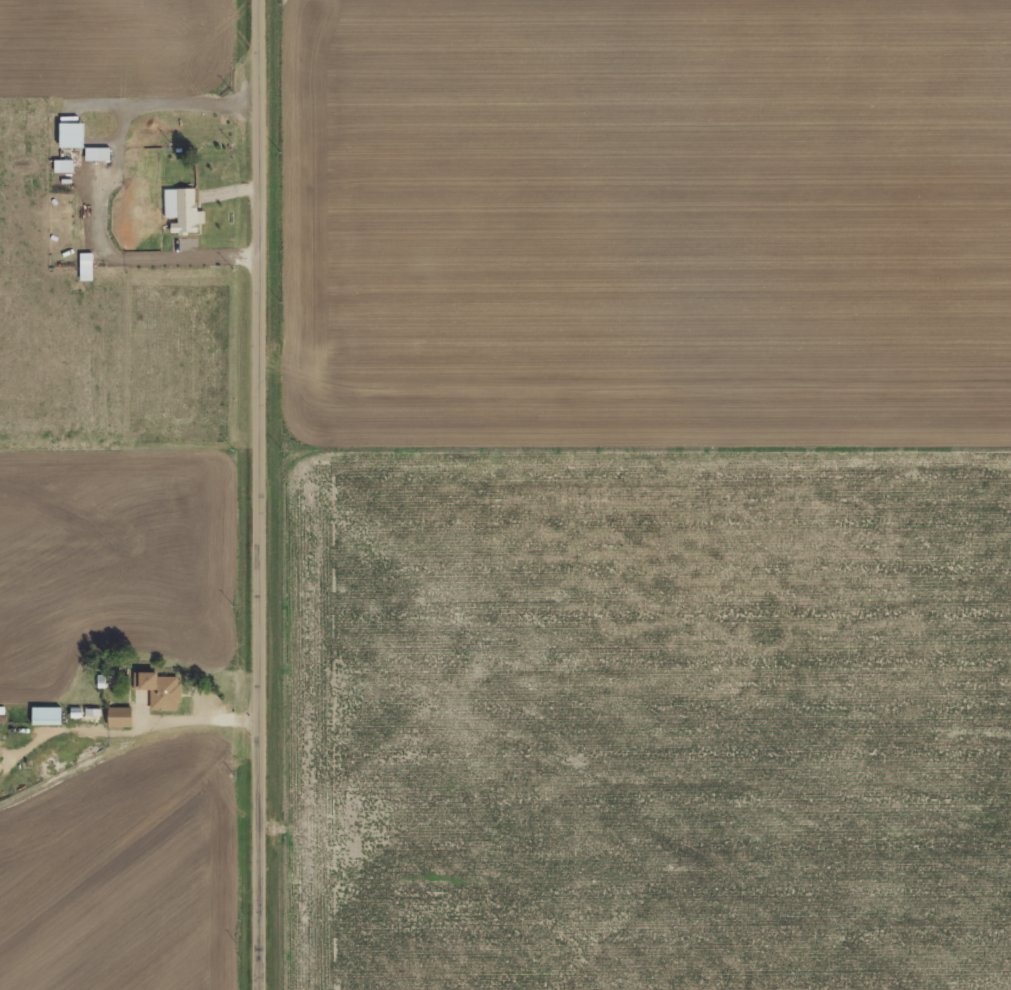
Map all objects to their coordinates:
building: (93, 162)
building: (59, 174)
building: (179, 218)
road: (269, 494)
building: (155, 697)
building: (41, 723)

